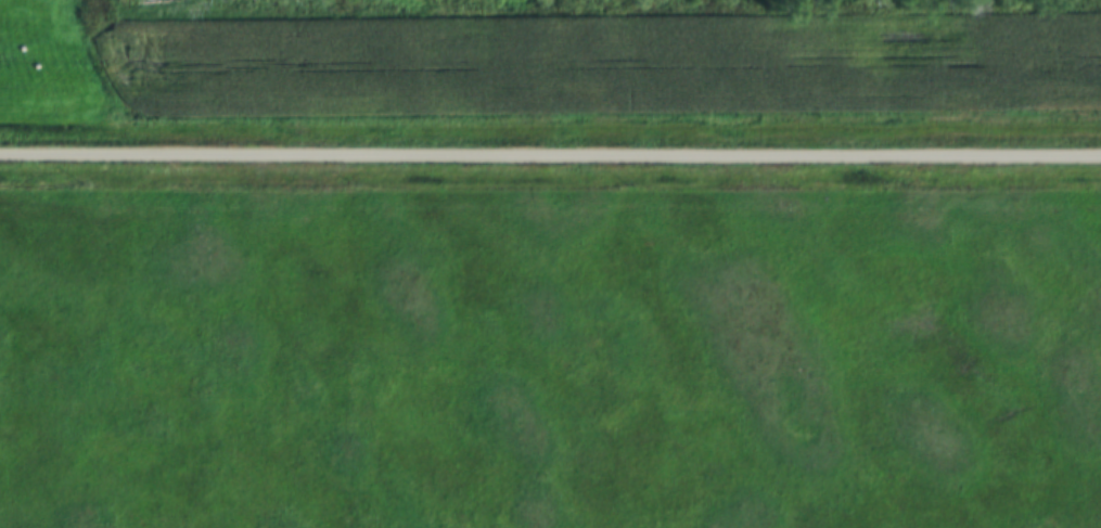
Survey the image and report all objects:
road: (550, 157)

